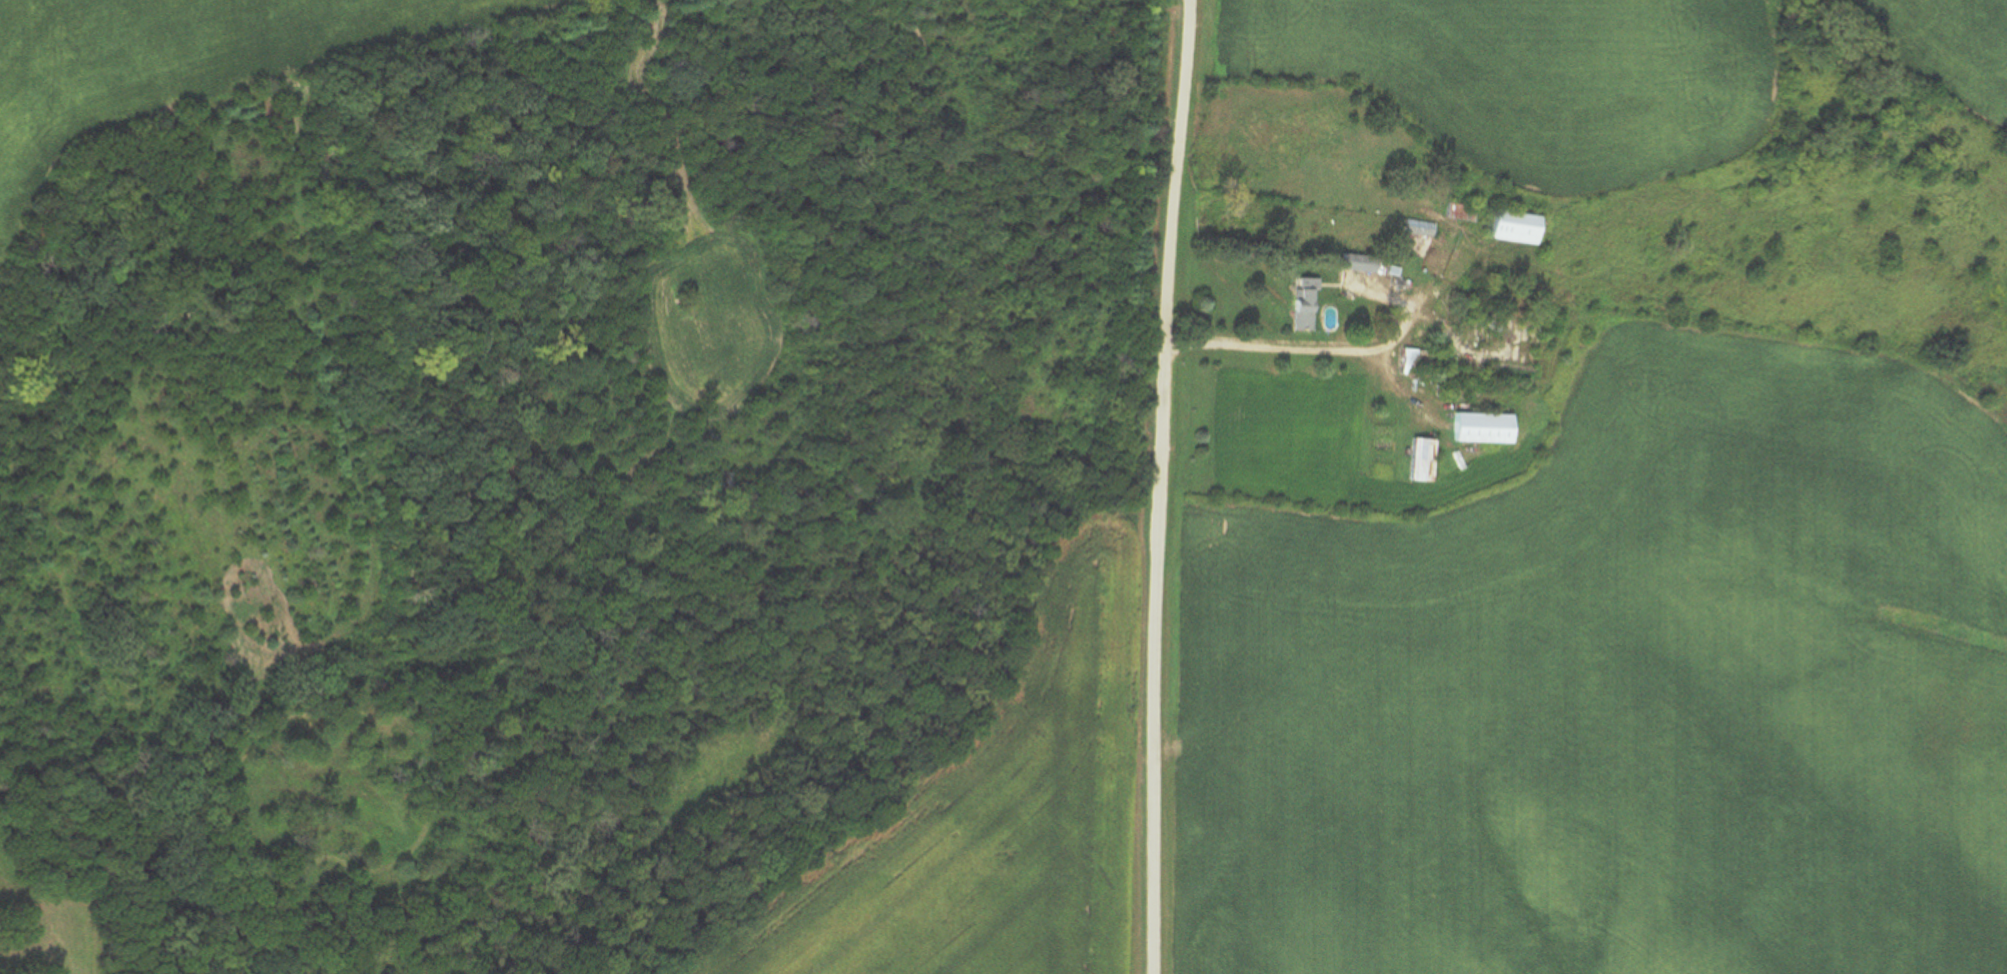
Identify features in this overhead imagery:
building: (1456, 214)
building: (1510, 229)
building: (1412, 231)
building: (1355, 264)
building: (1299, 307)
road: (1303, 352)
building: (1477, 429)
building: (1417, 462)
road: (1158, 486)

